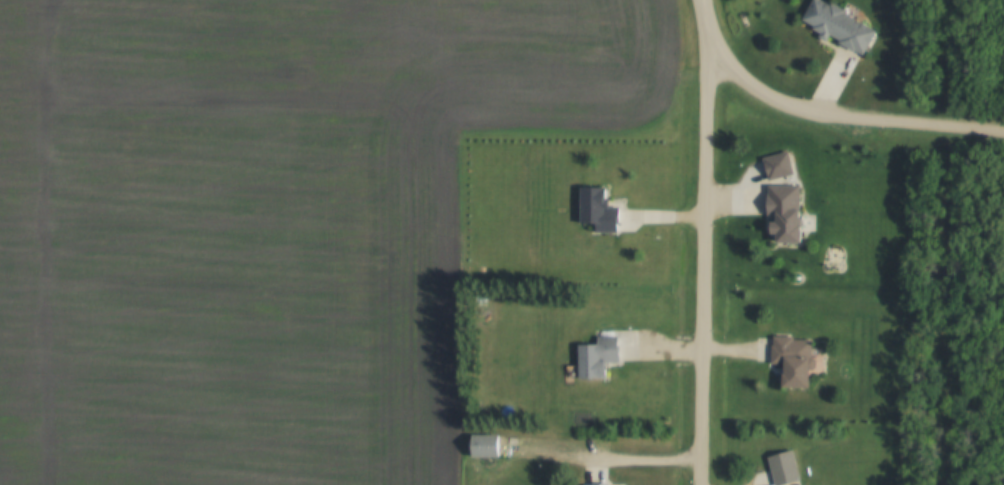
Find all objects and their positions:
building: (839, 25)
road: (823, 114)
building: (777, 164)
building: (597, 209)
building: (784, 211)
road: (704, 243)
building: (597, 356)
building: (792, 359)
road: (604, 459)
building: (783, 467)
building: (595, 484)

